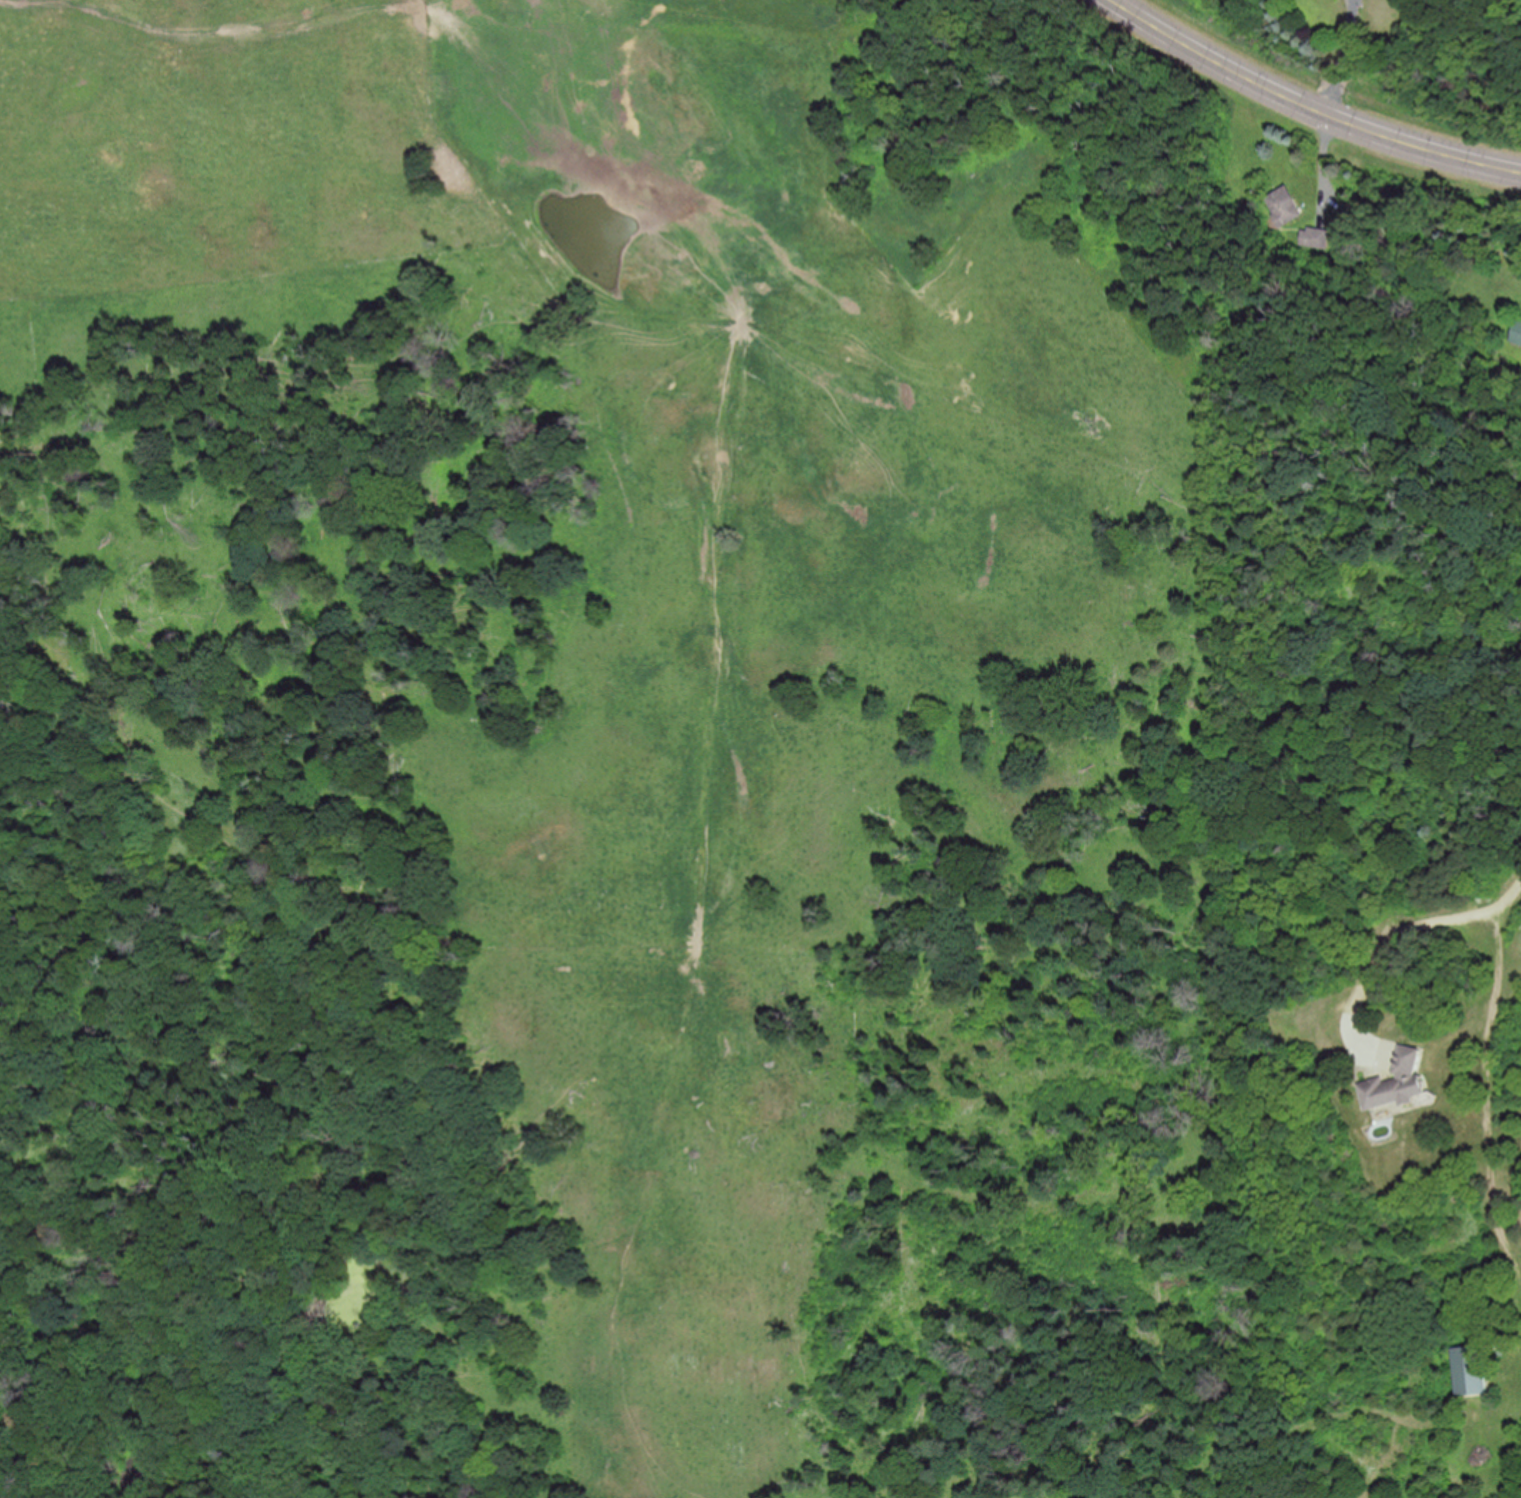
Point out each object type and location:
road: (1342, 56)
road: (1310, 105)
road: (1321, 166)
building: (1282, 204)
building: (1313, 236)
building: (1517, 331)
road: (1387, 941)
building: (1402, 1082)
road: (1487, 1091)
building: (1469, 1370)

